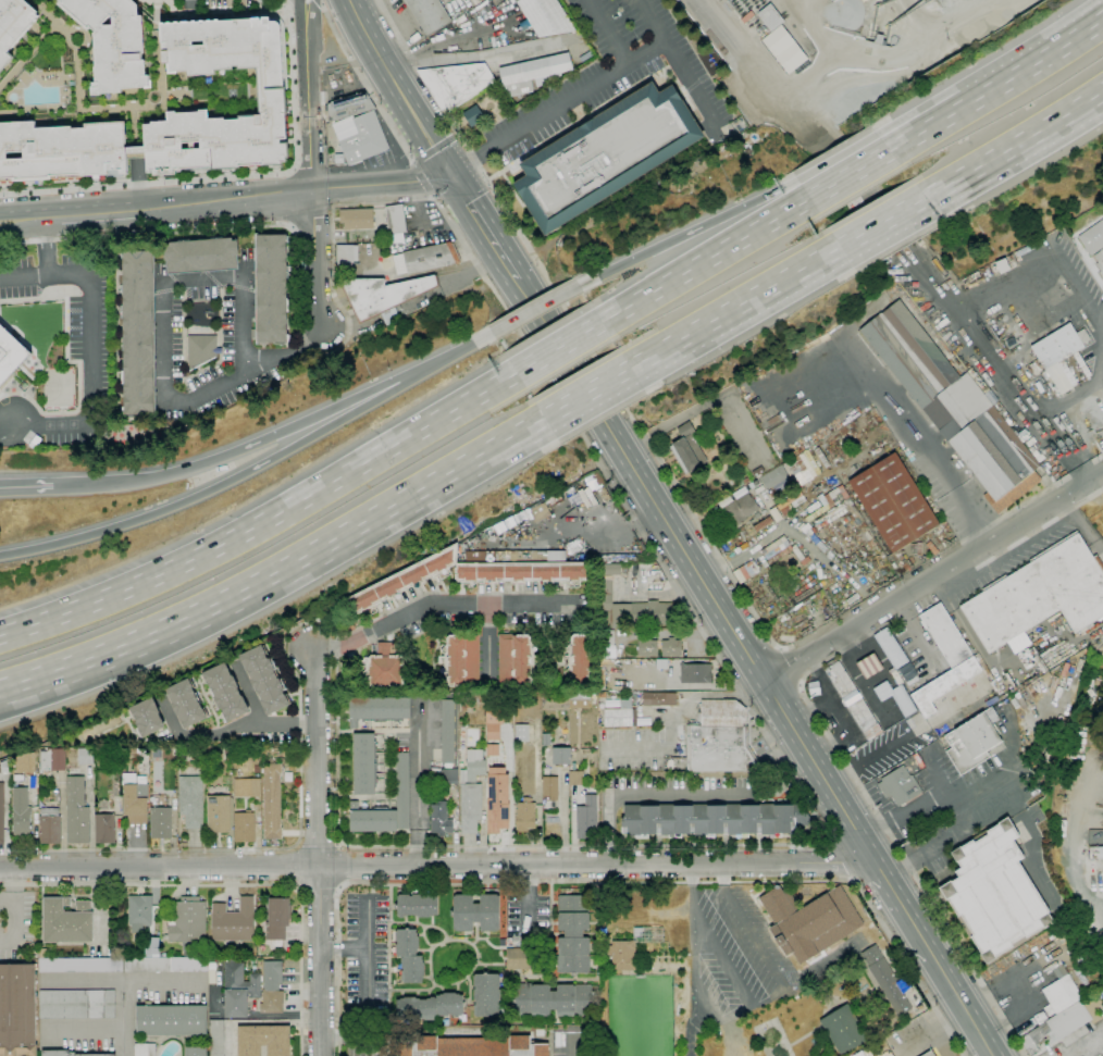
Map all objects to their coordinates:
road: (321, 2)
building: (429, 14)
road: (311, 16)
road: (303, 17)
building: (468, 17)
building: (545, 17)
building: (770, 17)
road: (650, 20)
road: (917, 21)
building: (13, 25)
building: (756, 25)
road: (605, 32)
road: (461, 37)
building: (879, 39)
building: (112, 41)
building: (791, 48)
road: (497, 50)
road: (898, 54)
road: (677, 61)
road: (1036, 63)
road: (404, 65)
building: (534, 73)
building: (456, 83)
road: (365, 85)
road: (396, 86)
building: (271, 95)
building: (349, 107)
building: (473, 116)
road: (536, 117)
road: (928, 128)
road: (456, 134)
building: (360, 137)
road: (1015, 147)
road: (433, 148)
building: (61, 151)
building: (605, 154)
building: (338, 159)
road: (862, 169)
road: (292, 170)
road: (293, 170)
road: (302, 170)
traffic signals: (448, 172)
road: (420, 178)
road: (311, 179)
road: (815, 183)
road: (295, 190)
road: (821, 191)
road: (432, 196)
road: (500, 204)
road: (101, 214)
road: (310, 214)
road: (47, 218)
road: (893, 218)
road: (16, 219)
building: (357, 219)
building: (395, 220)
road: (430, 221)
road: (16, 222)
road: (882, 223)
road: (482, 226)
road: (292, 227)
road: (687, 233)
road: (296, 237)
building: (1092, 238)
road: (48, 246)
building: (201, 254)
building: (347, 254)
building: (425, 259)
road: (705, 260)
road: (473, 261)
building: (1012, 261)
building: (1100, 263)
road: (472, 265)
building: (1002, 265)
road: (24, 275)
road: (464, 276)
building: (271, 289)
building: (383, 294)
road: (734, 308)
road: (535, 309)
building: (138, 333)
road: (847, 341)
road: (164, 344)
road: (558, 347)
building: (1057, 347)
building: (201, 350)
building: (10, 355)
road: (456, 355)
road: (535, 358)
road: (1000, 364)
road: (88, 376)
park: (57, 386)
road: (586, 393)
road: (710, 401)
building: (954, 408)
road: (1049, 413)
building: (685, 430)
parking lot: (743, 431)
fountain: (718, 437)
road: (397, 443)
road: (243, 450)
building: (687, 454)
building: (821, 457)
road: (667, 460)
building: (802, 468)
flagpole: (677, 470)
building: (773, 476)
road: (641, 481)
building: (731, 483)
building: (754, 484)
road: (218, 485)
road: (27, 487)
building: (581, 488)
building: (604, 494)
road: (1094, 495)
building: (777, 500)
road: (1091, 500)
building: (828, 501)
building: (893, 502)
building: (783, 504)
building: (741, 507)
building: (538, 512)
building: (774, 514)
building: (763, 524)
road: (607, 532)
building: (815, 539)
building: (782, 552)
road: (280, 572)
building: (466, 576)
road: (932, 577)
road: (144, 583)
building: (606, 596)
building: (1039, 598)
road: (436, 604)
building: (652, 613)
road: (819, 630)
road: (288, 634)
building: (945, 635)
road: (487, 639)
building: (605, 643)
building: (647, 647)
building: (671, 647)
building: (516, 658)
building: (580, 659)
building: (462, 660)
building: (661, 663)
road: (792, 663)
building: (1079, 664)
building: (982, 667)
building: (385, 668)
building: (695, 674)
building: (1045, 676)
building: (264, 680)
building: (1098, 682)
building: (944, 685)
building: (225, 692)
road: (247, 693)
building: (602, 695)
building: (579, 696)
building: (659, 699)
building: (470, 700)
building: (853, 700)
building: (555, 701)
building: (578, 701)
building: (186, 704)
building: (377, 710)
building: (621, 715)
building: (147, 717)
building: (492, 723)
road: (822, 724)
road: (228, 730)
building: (447, 733)
building: (521, 733)
road: (795, 735)
building: (719, 738)
road: (908, 738)
building: (546, 740)
building: (972, 741)
building: (226, 754)
building: (85, 756)
building: (561, 756)
building: (51, 760)
building: (364, 765)
building: (3, 768)
building: (257, 769)
road: (935, 772)
building: (443, 775)
building: (575, 778)
building: (898, 785)
building: (246, 787)
building: (550, 787)
building: (402, 790)
building: (471, 792)
road: (639, 792)
road: (958, 793)
building: (135, 798)
building: (191, 800)
building: (272, 800)
building: (497, 800)
building: (102, 805)
building: (21, 812)
building: (77, 812)
building: (1, 815)
building: (219, 815)
building: (525, 815)
building: (586, 818)
building: (372, 819)
building: (439, 819)
building: (712, 819)
building: (161, 823)
road: (821, 823)
road: (563, 825)
building: (50, 827)
building: (244, 827)
building: (104, 829)
road: (957, 832)
road: (338, 844)
road: (1069, 844)
road: (866, 848)
road: (317, 853)
building: (1095, 856)
road: (835, 861)
road: (437, 864)
road: (235, 883)
road: (615, 883)
road: (692, 885)
building: (806, 891)
building: (994, 892)
building: (417, 905)
building: (140, 910)
building: (475, 912)
building: (277, 918)
building: (66, 921)
building: (233, 921)
building: (809, 921)
building: (188, 923)
parking lot: (14, 925)
building: (573, 934)
road: (368, 946)
road: (759, 946)
building: (152, 947)
building: (622, 955)
building: (409, 956)
road: (722, 957)
building: (518, 958)
building: (80, 965)
building: (165, 965)
building: (211, 976)
road: (368, 977)
building: (885, 980)
road: (84, 981)
road: (125, 981)
road: (949, 982)
building: (272, 987)
building: (238, 990)
building: (1059, 991)
building: (486, 995)
road: (694, 998)
building: (553, 1001)
building: (76, 1004)
building: (429, 1007)
building: (17, 1010)
park: (639, 1016)
building: (1040, 1018)
road: (1004, 1019)
building: (171, 1020)
building: (1063, 1023)
road: (939, 1027)
road: (86, 1030)
building: (844, 1030)
building: (540, 1033)
building: (215, 1038)
park: (770, 1039)
road: (230, 1040)
building: (263, 1041)
building: (472, 1046)
road: (571, 1048)
building: (145, 1049)
building: (196, 1052)
building: (69, 1054)
building: (929, 1054)

